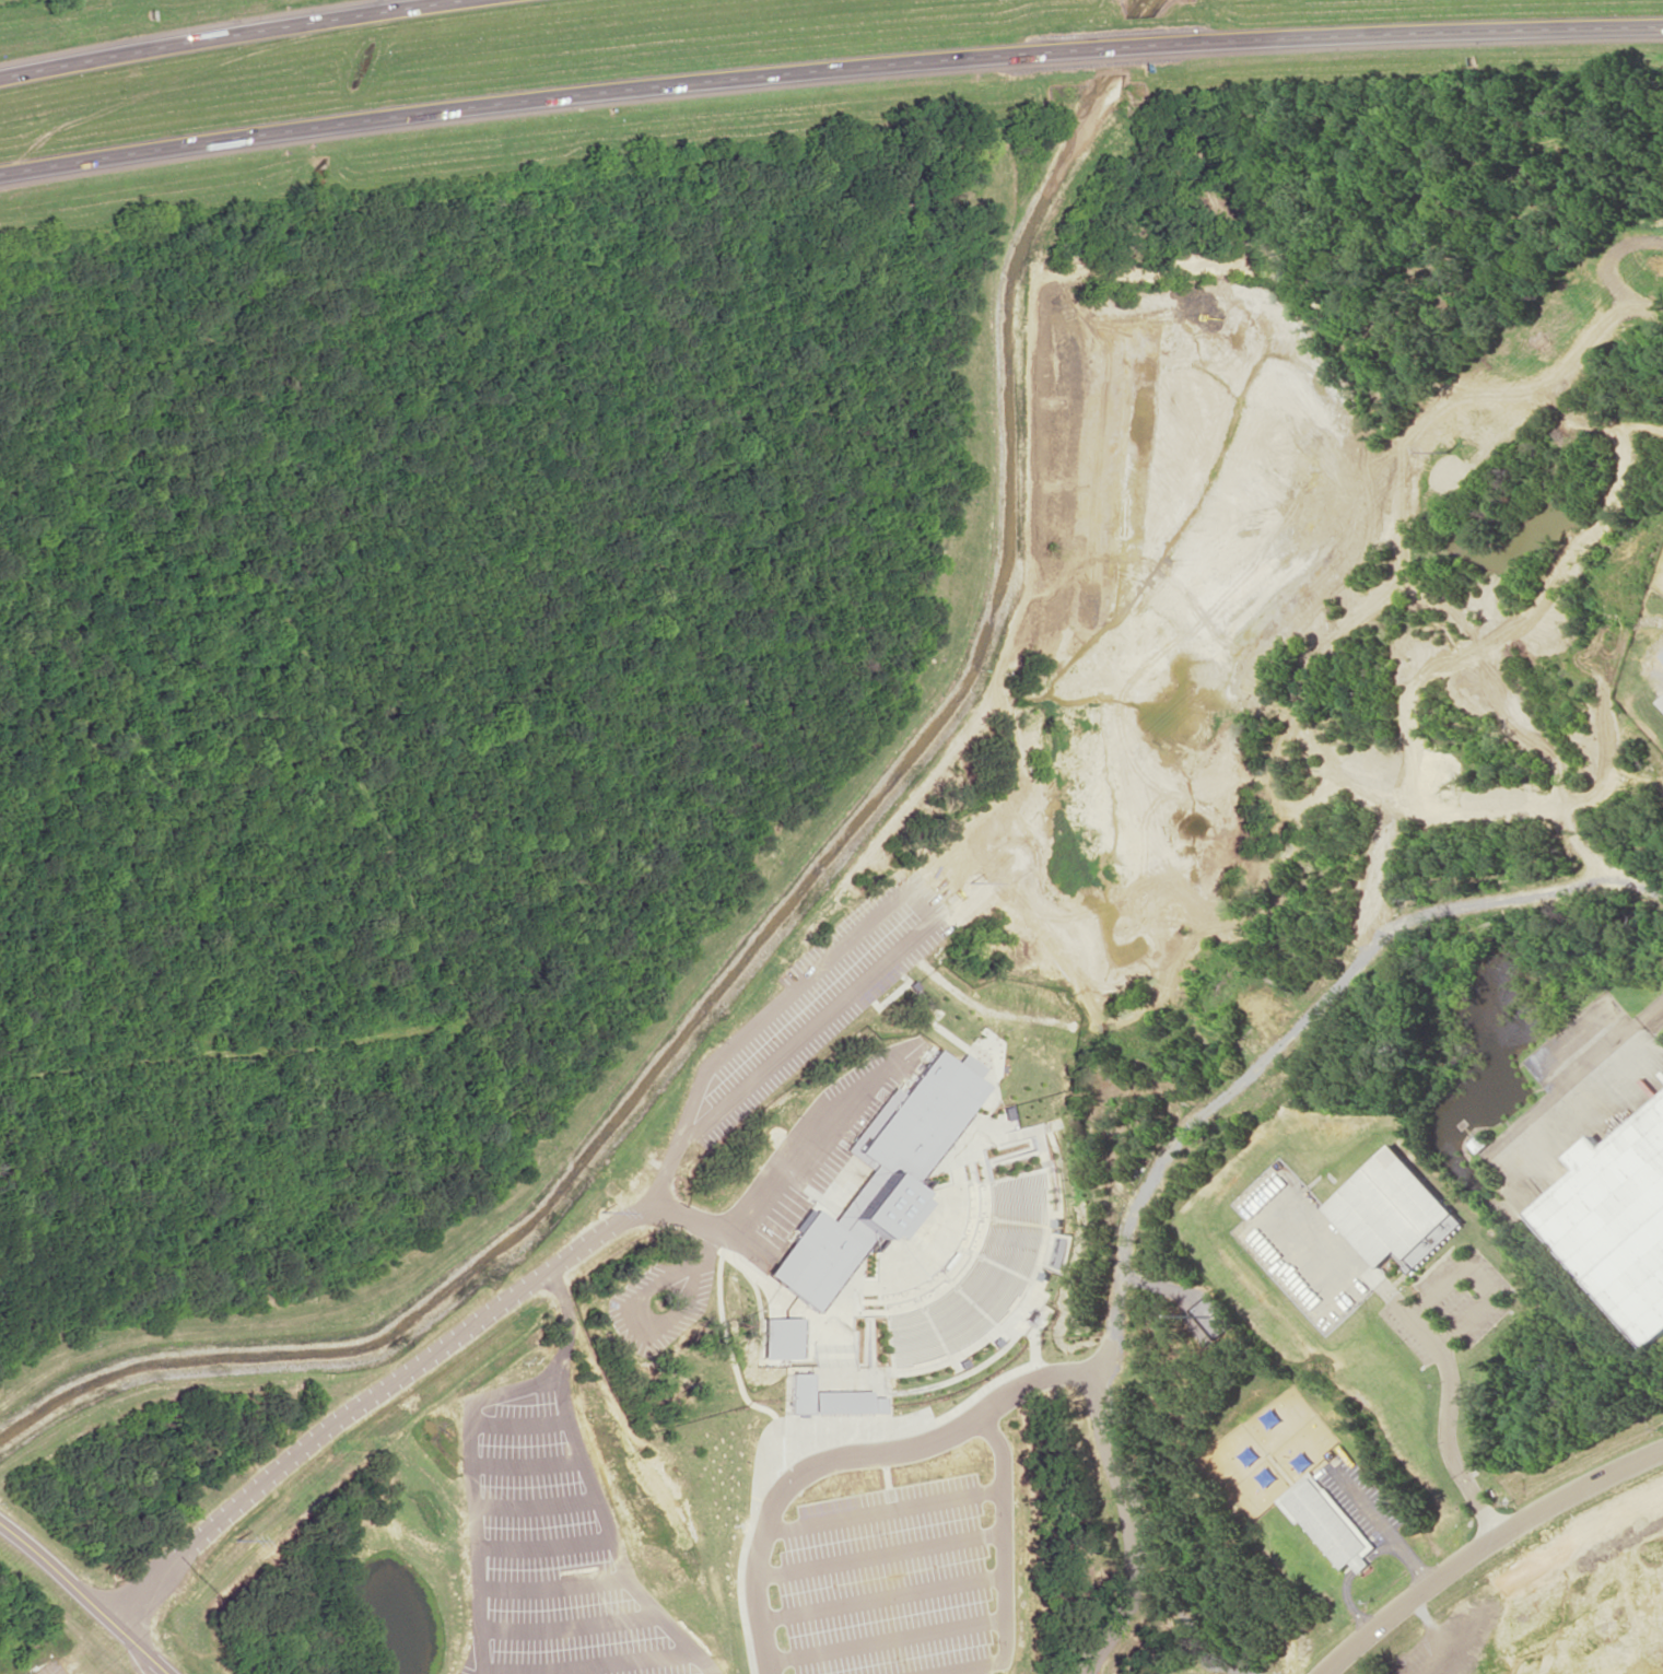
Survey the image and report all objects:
road: (229, 34)
road: (828, 66)
power tower: (1444, 452)
power tower: (968, 880)
parking lot: (816, 1003)
parking lot: (813, 1158)
building: (879, 1175)
building: (1390, 1206)
power tower: (600, 1209)
building: (1617, 1219)
building: (1031, 1316)
building: (780, 1337)
building: (828, 1397)
building: (1327, 1521)
power tower: (233, 1540)
road: (1486, 1548)
parking lot: (552, 1573)
parking lot: (886, 1582)
road: (86, 1599)
parking lot: (1460, 1637)
parking lot: (45, 1667)

